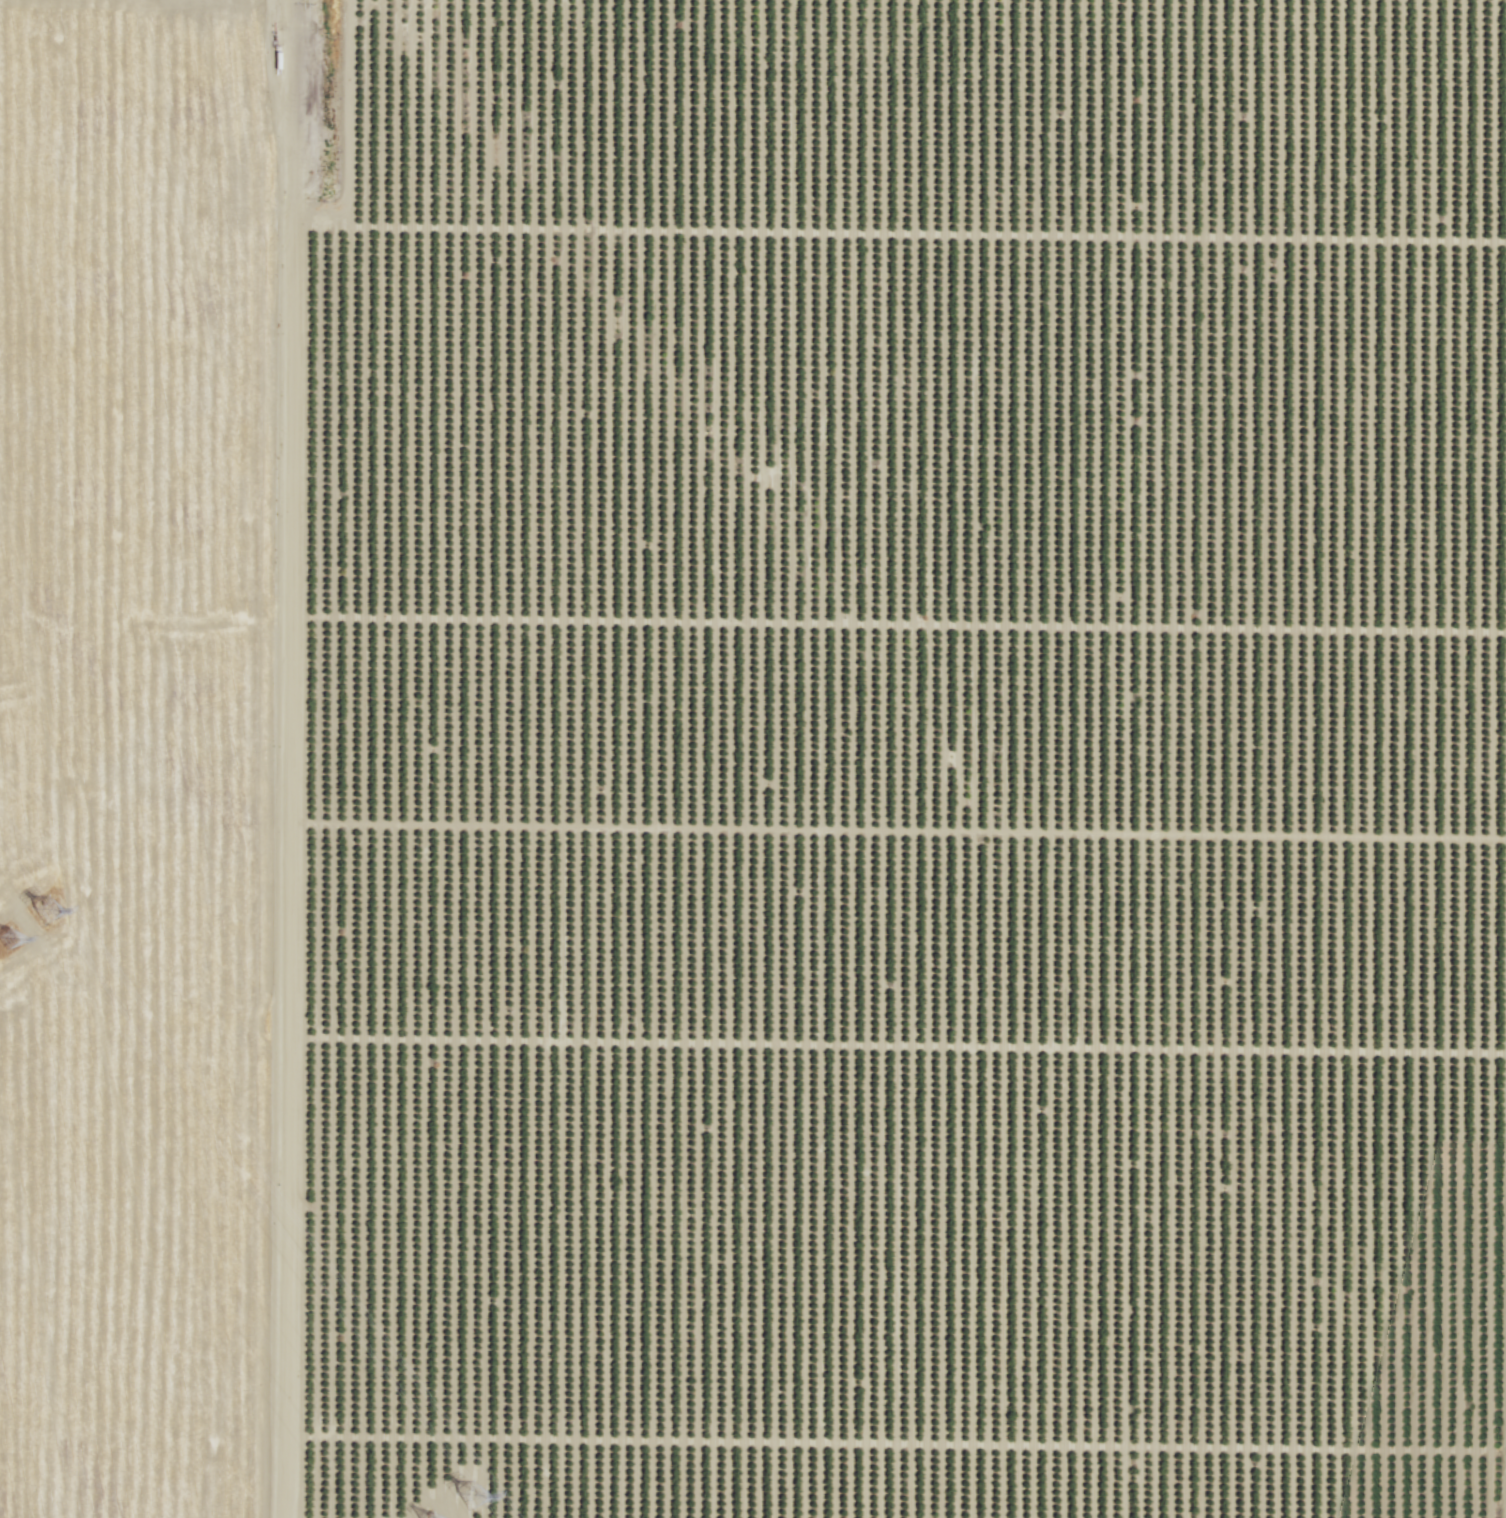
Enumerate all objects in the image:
power tower: (44, 911)
power tower: (8, 937)
power tower: (467, 1490)

